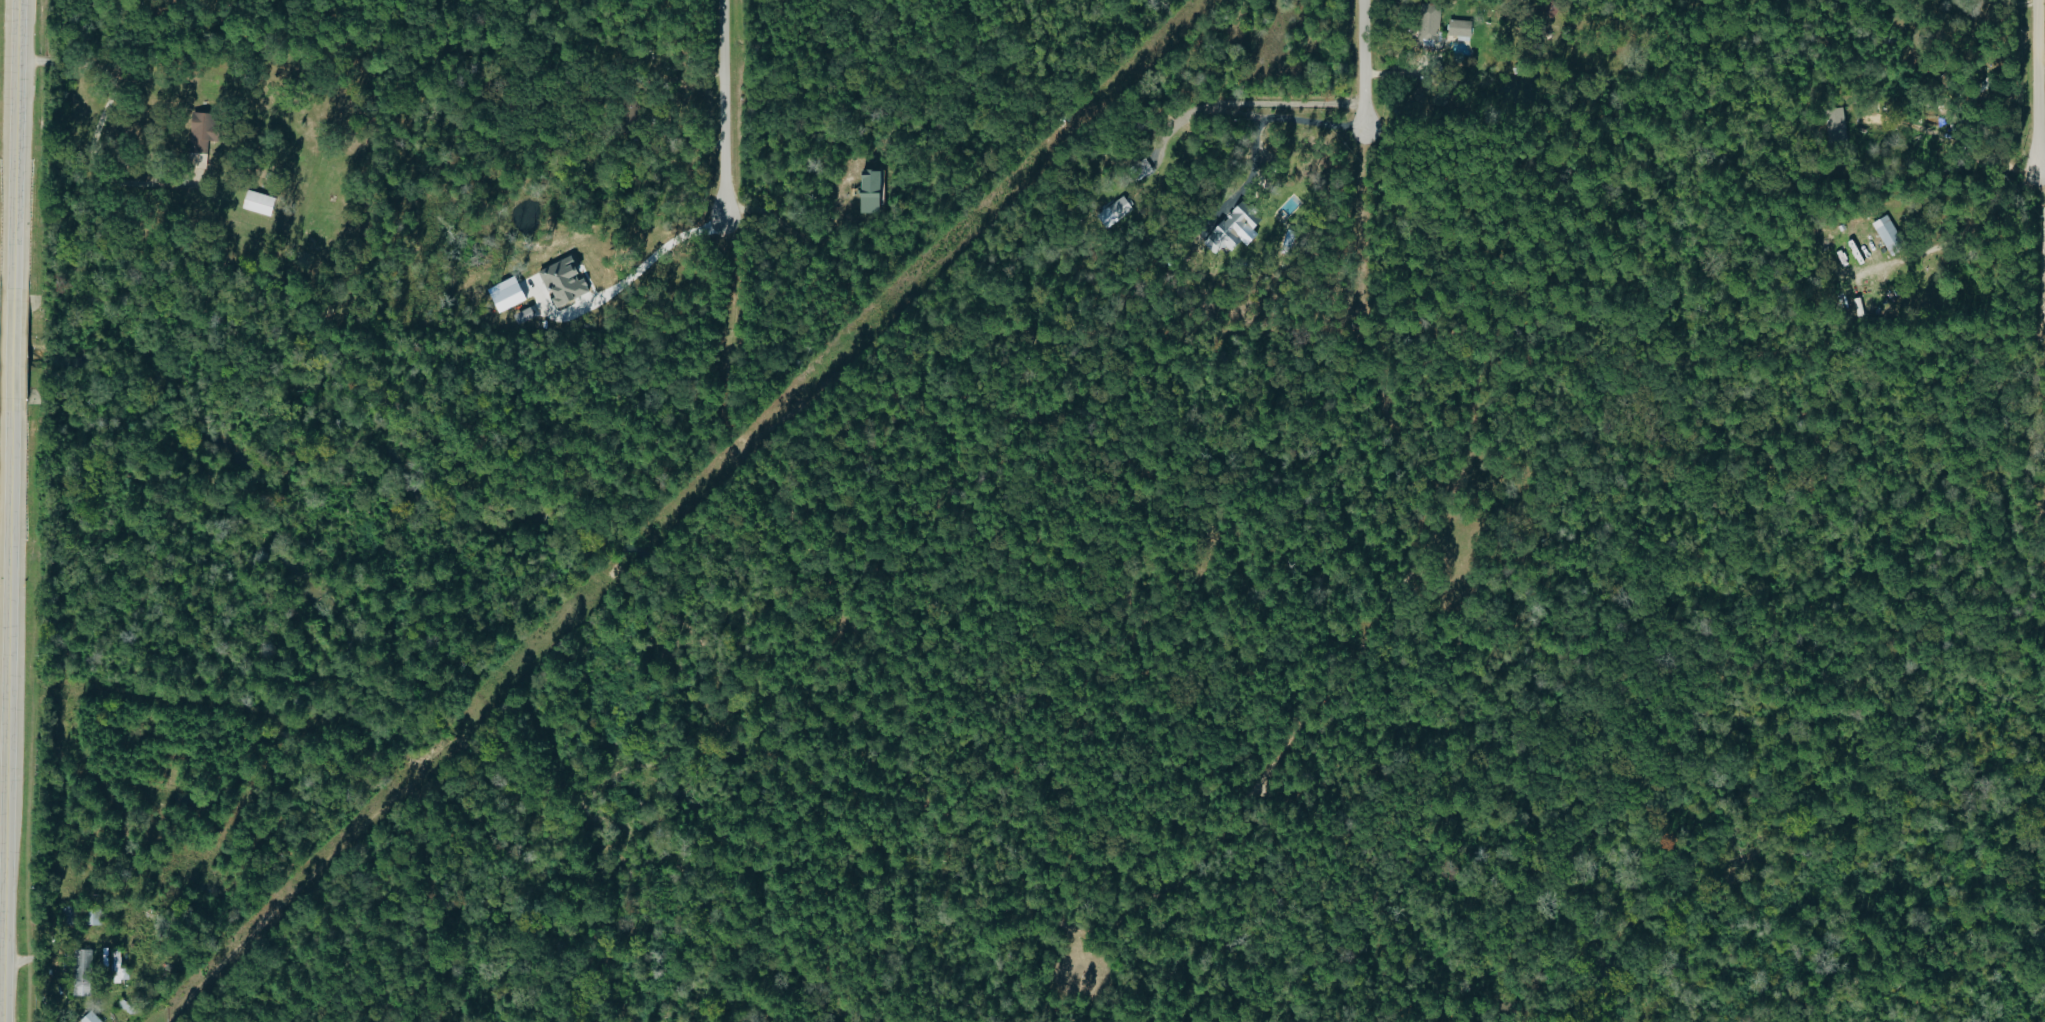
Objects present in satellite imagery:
building: (1548, 9)
building: (1426, 23)
building: (1457, 28)
road: (1368, 54)
road: (2041, 64)
road: (2036, 86)
road: (725, 107)
road: (1248, 109)
road: (98, 118)
building: (1835, 127)
building: (207, 130)
building: (1140, 170)
building: (874, 191)
building: (262, 203)
building: (1116, 210)
road: (1978, 219)
building: (1230, 228)
building: (1883, 229)
road: (2040, 246)
road: (650, 256)
building: (511, 294)
road: (13, 511)
road: (5, 735)
road: (2, 929)
building: (114, 957)
building: (85, 973)
building: (92, 1018)

